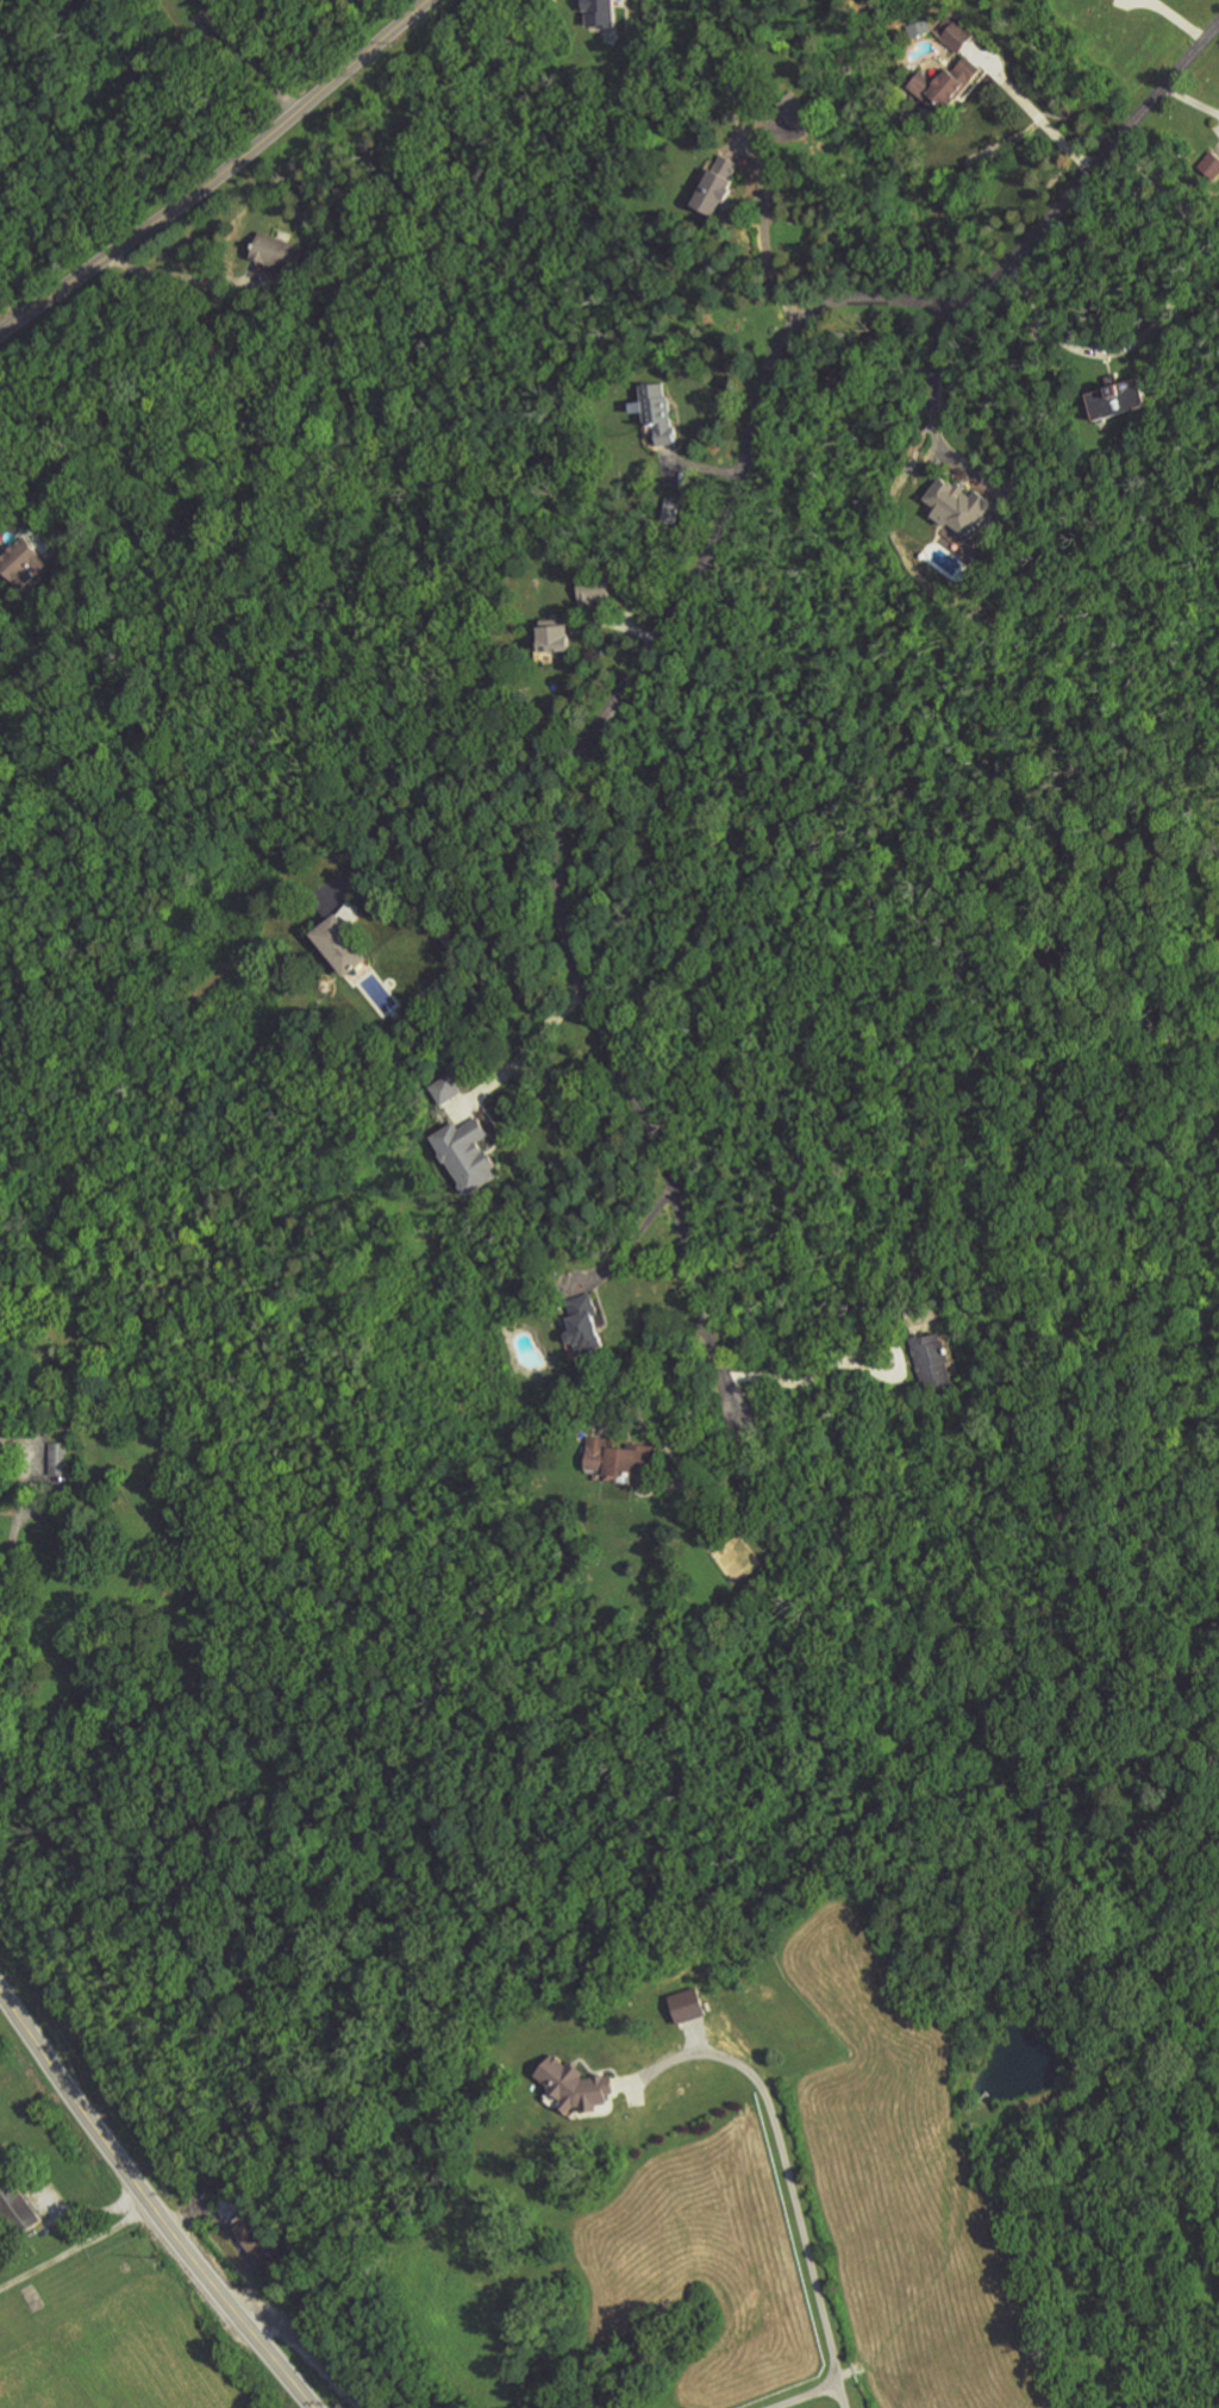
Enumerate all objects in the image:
building: (600, 13)
building: (955, 33)
road: (250, 58)
building: (945, 86)
road: (1032, 115)
building: (1211, 164)
road: (220, 176)
building: (718, 186)
road: (765, 248)
building: (277, 251)
road: (183, 274)
road: (1045, 320)
road: (931, 387)
building: (1121, 400)
building: (657, 412)
building: (958, 506)
building: (670, 509)
building: (23, 561)
building: (594, 588)
road: (671, 615)
building: (556, 636)
road: (469, 807)
building: (343, 943)
road: (531, 1046)
building: (448, 1088)
building: (469, 1153)
road: (632, 1247)
building: (586, 1324)
road: (849, 1356)
building: (934, 1361)
road: (650, 1431)
building: (619, 1457)
building: (58, 1458)
road: (4, 1601)
building: (581, 2088)
road: (800, 2202)
road: (150, 2204)
building: (19, 2207)
building: (257, 2245)
road: (76, 2247)
road: (308, 2350)
road: (838, 2393)

